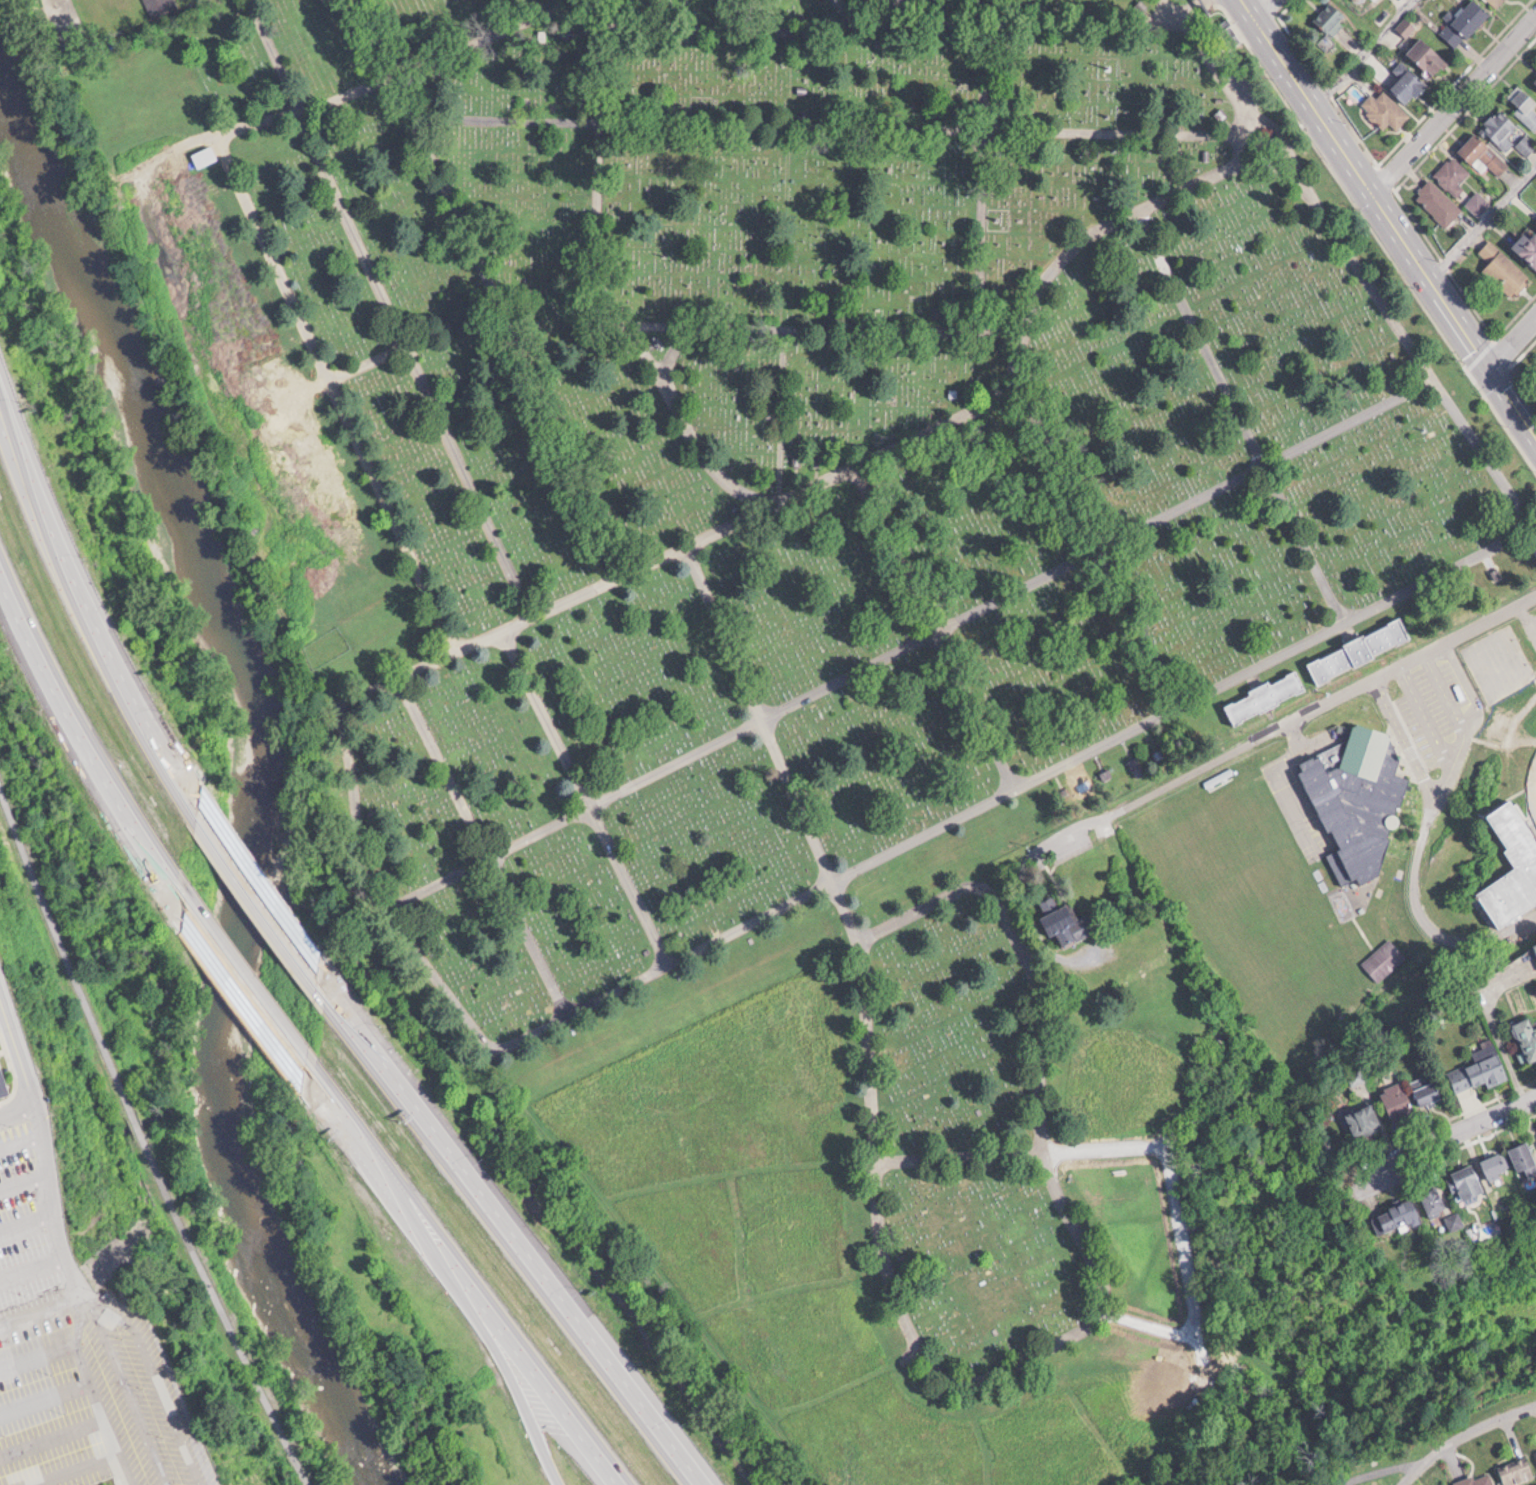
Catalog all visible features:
building: (1497, 2)
road: (1270, 6)
building: (160, 7)
building: (1331, 17)
building: (1466, 21)
road: (1366, 48)
building: (1428, 56)
building: (1535, 80)
building: (1407, 82)
road: (1457, 100)
building: (1525, 105)
building: (1385, 109)
building: (1500, 127)
building: (1483, 154)
building: (204, 155)
building: (1453, 174)
building: (1438, 201)
road: (1396, 215)
road: (1485, 219)
building: (1528, 247)
building: (1504, 269)
road: (1516, 342)
road: (85, 599)
park: (819, 643)
building: (1360, 649)
road: (1391, 665)
road: (1443, 690)
building: (1267, 696)
road: (1424, 714)
road: (1474, 716)
road: (81, 732)
building: (1136, 767)
river: (264, 777)
building: (1359, 800)
road: (1420, 853)
building: (1525, 859)
road: (262, 896)
building: (1070, 924)
building: (1383, 959)
road: (244, 983)
building: (1527, 1038)
road: (16, 1049)
building: (1492, 1065)
building: (1462, 1078)
building: (1428, 1090)
building: (1399, 1100)
building: (1365, 1120)
road: (1460, 1134)
road: (147, 1139)
building: (1526, 1158)
building: (1497, 1165)
road: (44, 1166)
building: (1468, 1183)
building: (1437, 1200)
building: (1398, 1218)
road: (524, 1234)
road: (469, 1279)
road: (493, 1345)
road: (1462, 1434)
building: (1518, 1470)
building: (1471, 1479)

